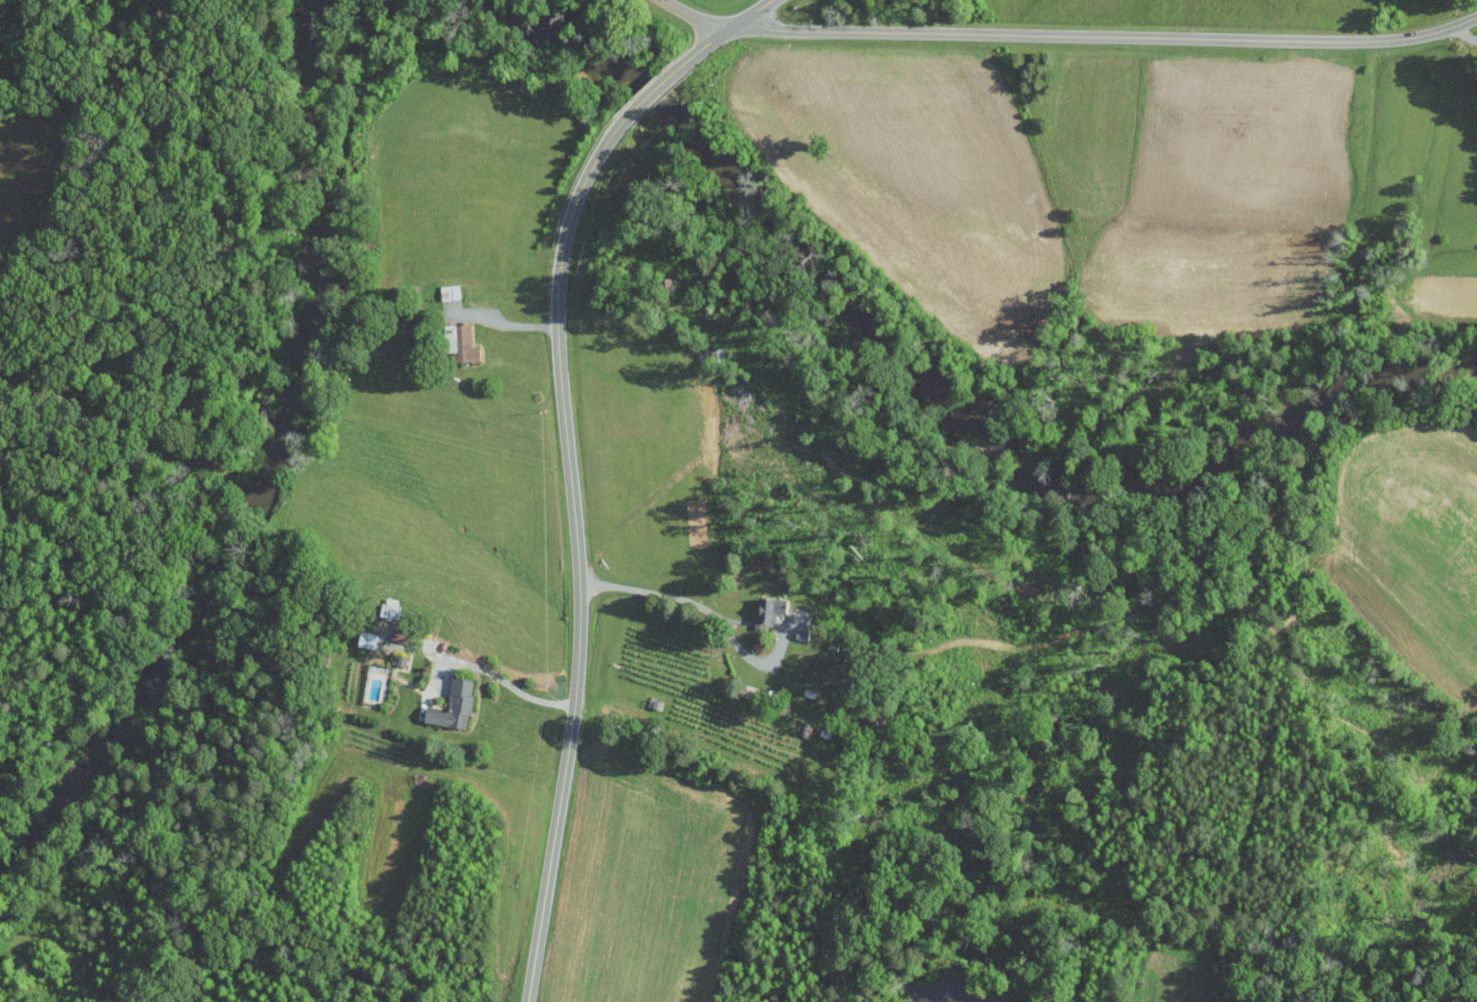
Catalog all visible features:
road: (1068, 35)
road: (1465, 35)
road: (509, 322)
building: (461, 341)
road: (568, 456)
road: (664, 594)
building: (770, 608)
building: (367, 639)
road: (511, 686)
building: (454, 705)

